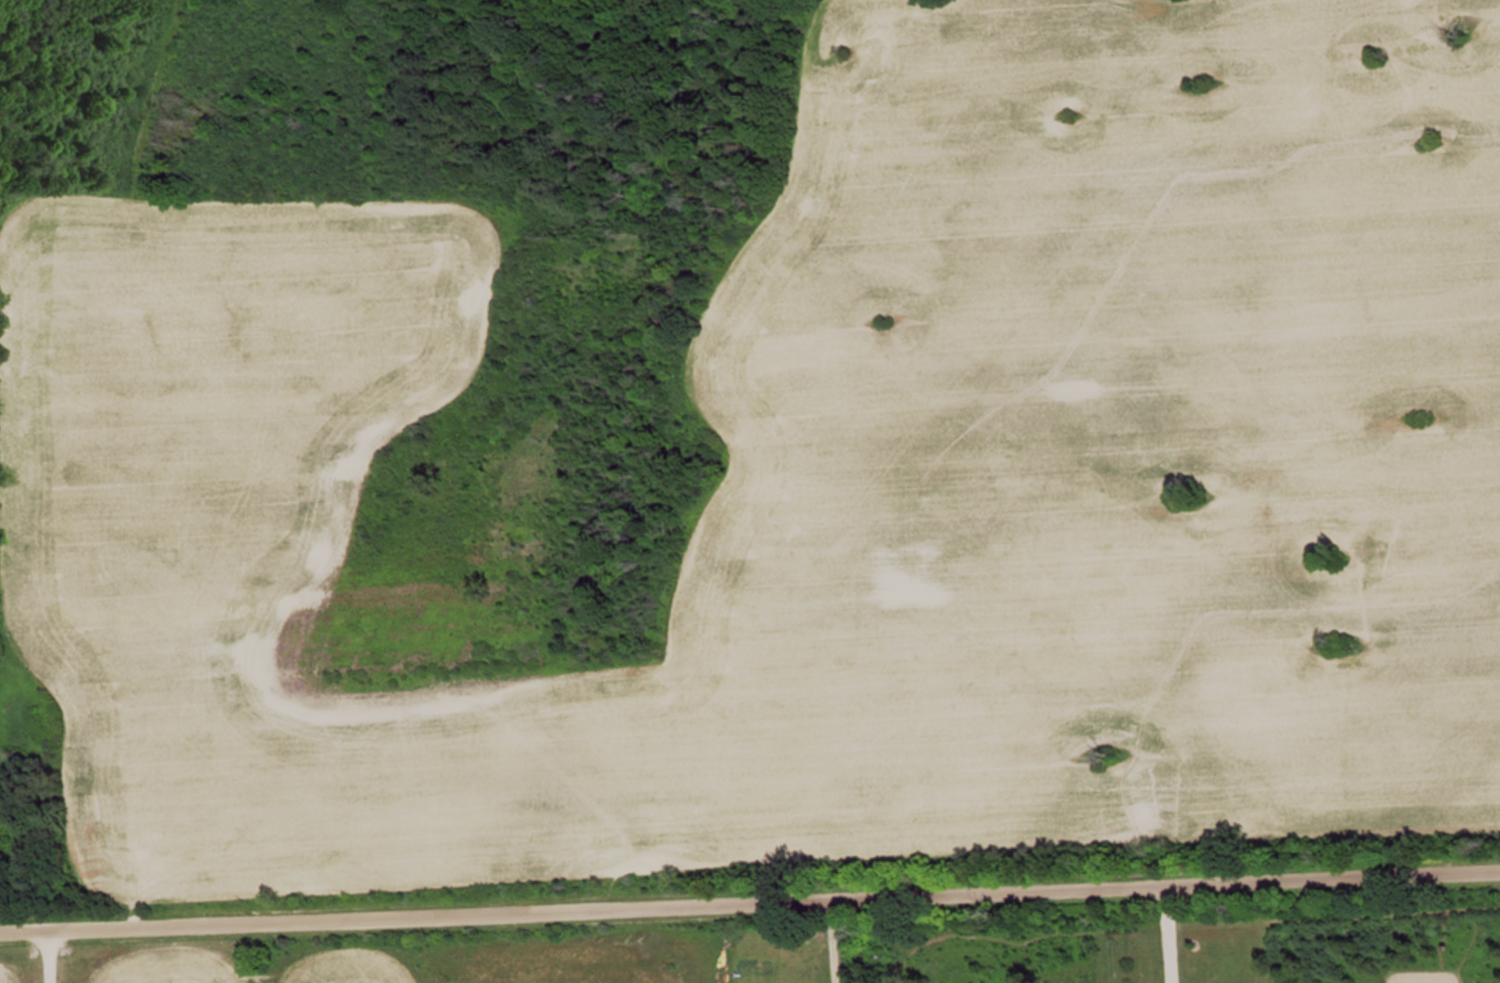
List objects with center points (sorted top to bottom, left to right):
road: (749, 902)
road: (1160, 934)
road: (49, 956)

